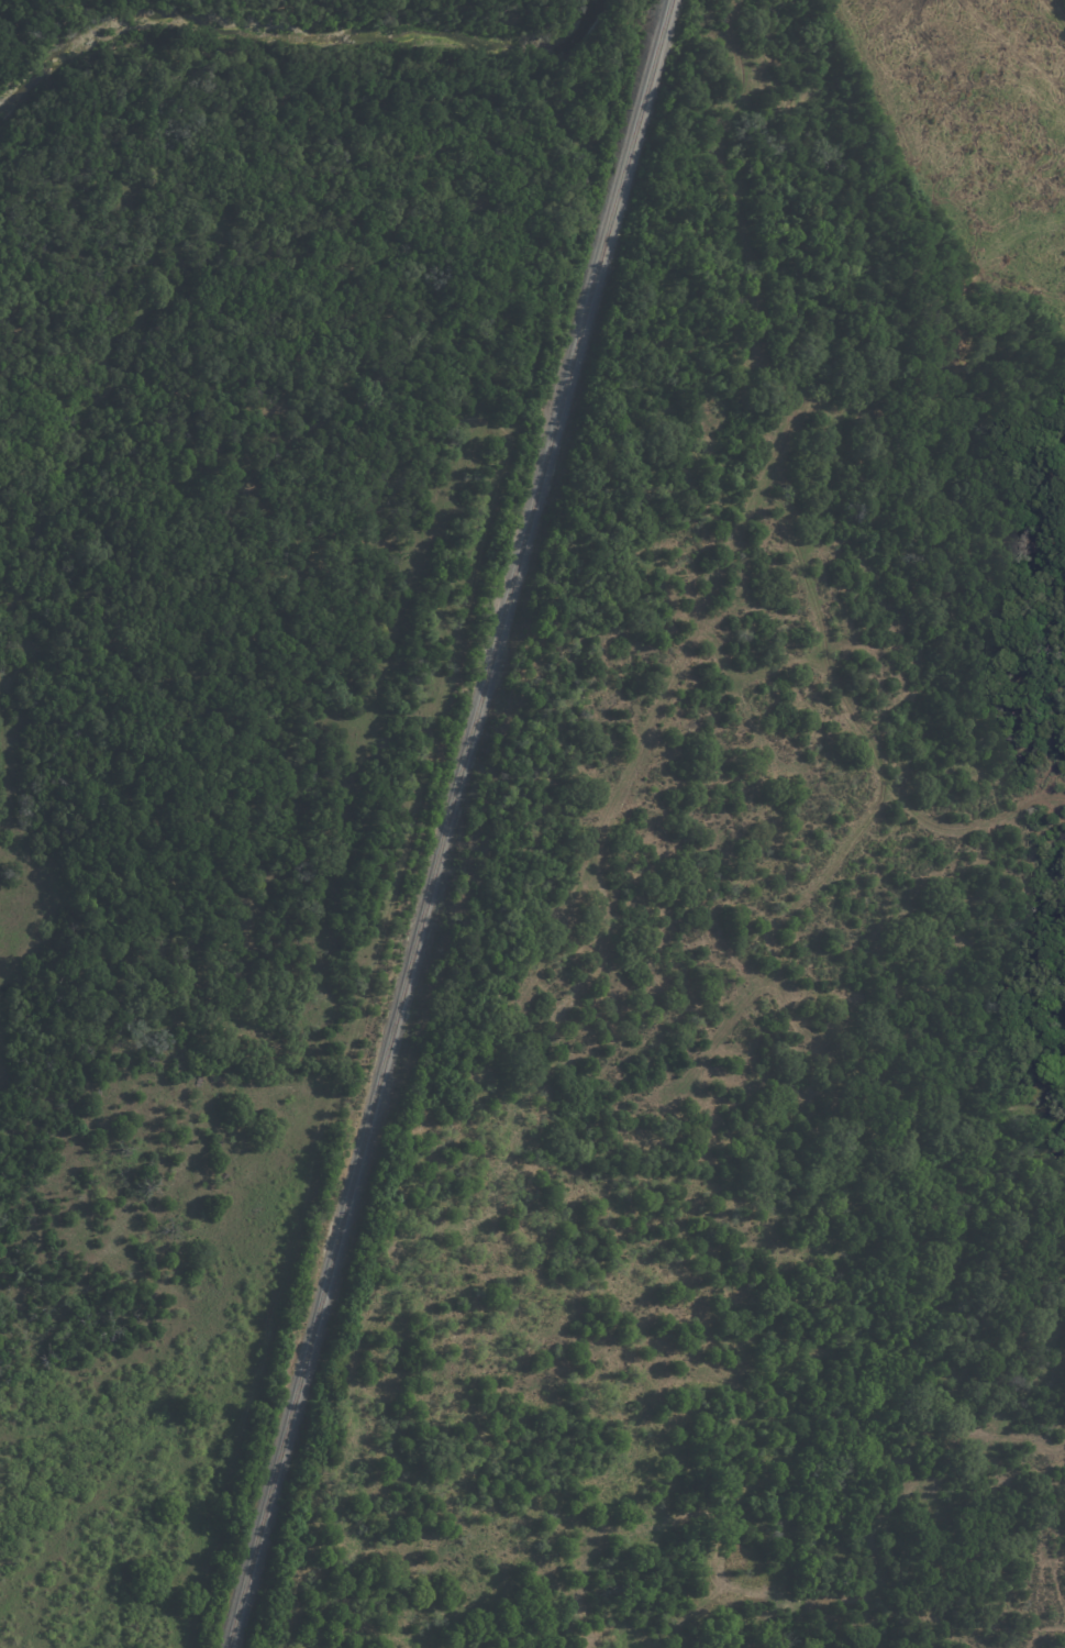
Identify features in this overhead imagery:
railway: (445, 823)

